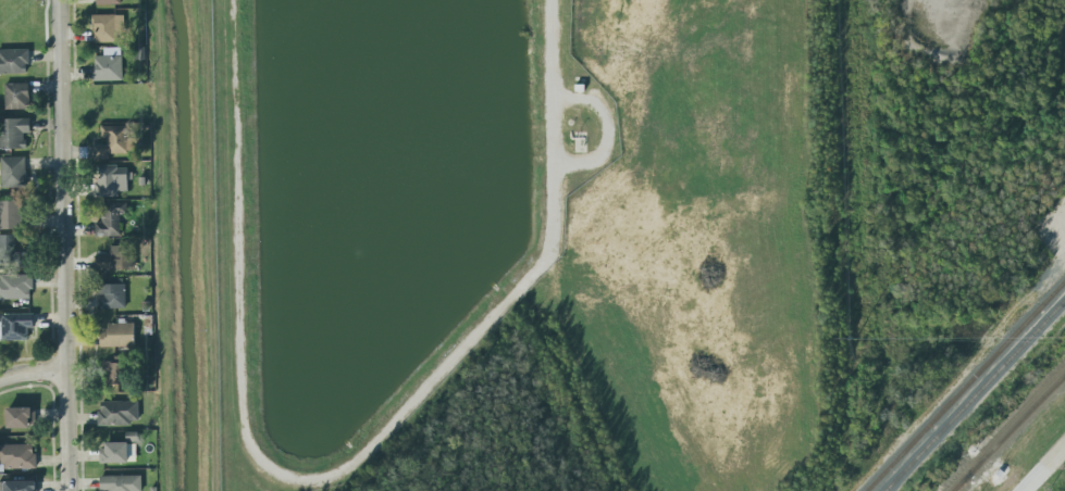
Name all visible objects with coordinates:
building: (109, 2)
building: (108, 28)
road: (552, 51)
building: (13, 61)
building: (109, 65)
building: (17, 97)
building: (14, 133)
building: (115, 142)
road: (597, 167)
building: (13, 172)
building: (112, 180)
building: (11, 215)
building: (111, 219)
building: (9, 243)
road: (65, 246)
building: (116, 259)
building: (15, 287)
building: (114, 294)
building: (15, 327)
building: (119, 336)
road: (33, 372)
building: (116, 372)
railway: (965, 385)
railway: (974, 394)
building: (119, 413)
building: (20, 417)
railway: (1011, 435)
building: (119, 453)
building: (17, 456)
road: (1043, 469)
building: (121, 483)
railway: (963, 483)
building: (18, 486)

